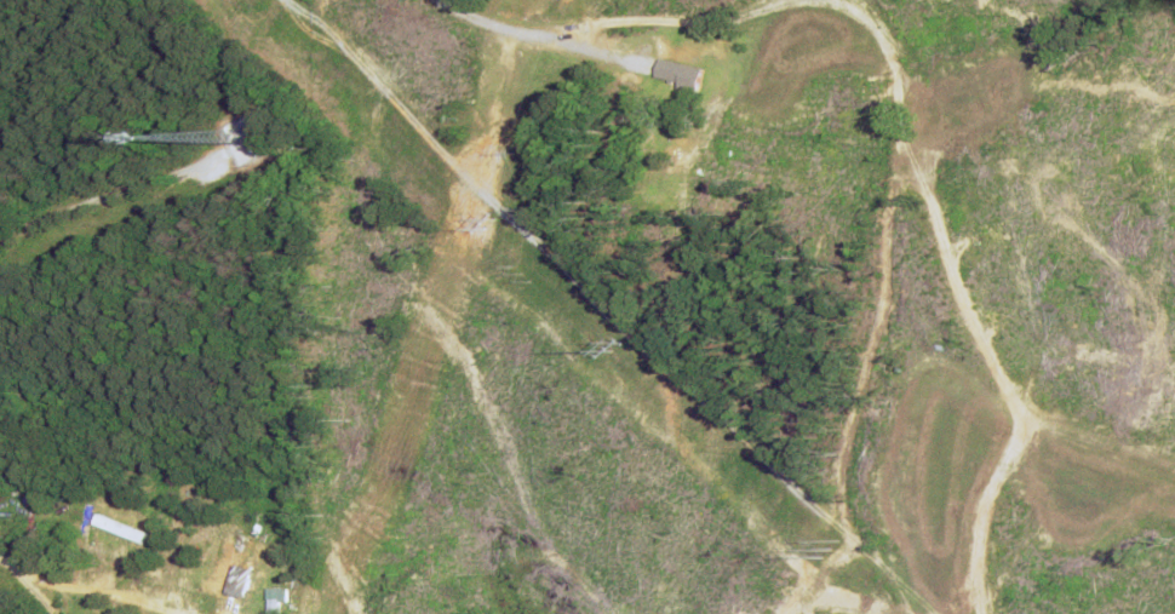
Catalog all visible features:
road: (654, 40)
building: (680, 75)
building: (162, 591)

